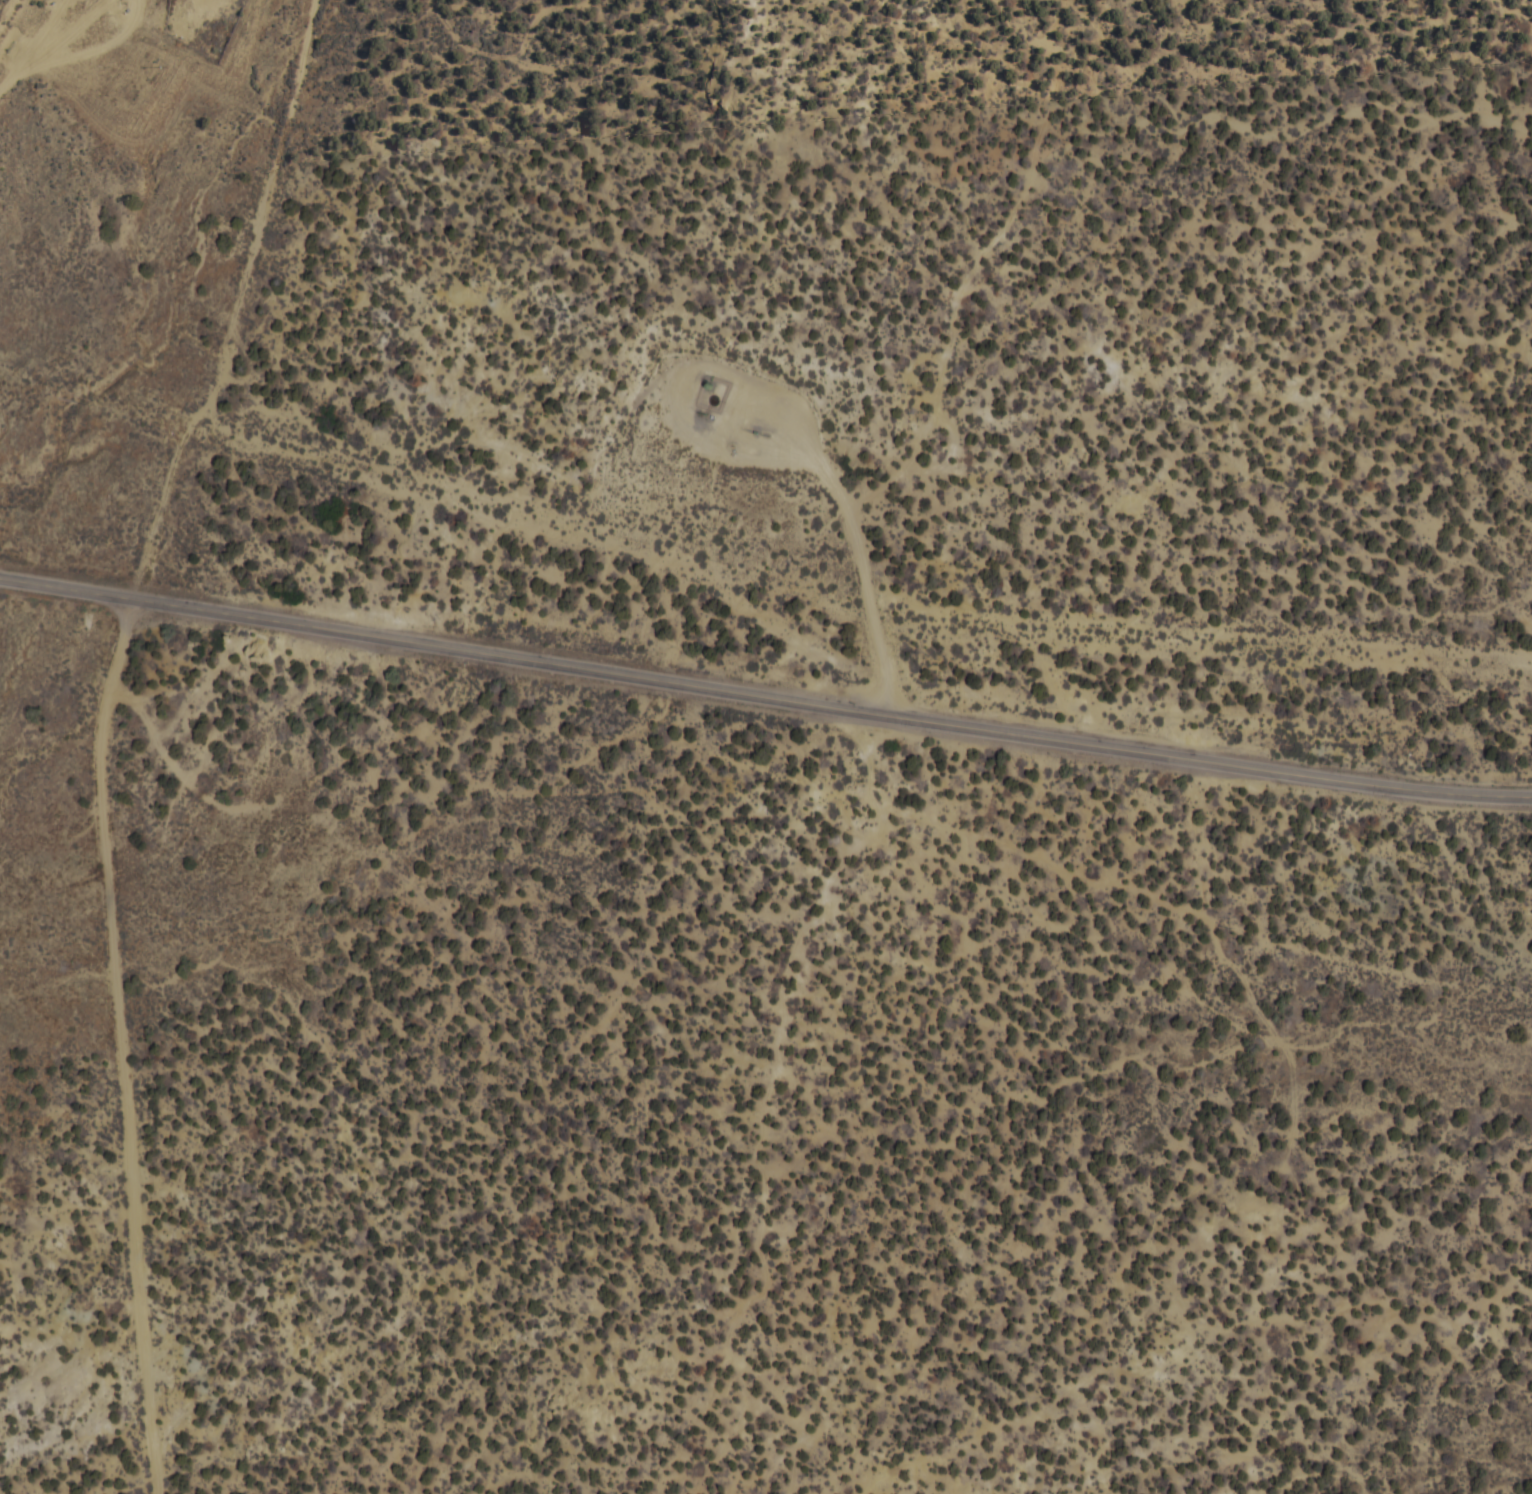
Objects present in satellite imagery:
road: (70, 31)
road: (35, 46)
road: (98, 48)
road: (980, 263)
road: (252, 276)
river: (102, 366)
road: (796, 408)
road: (955, 453)
road: (559, 524)
road: (765, 692)
road: (92, 1044)

